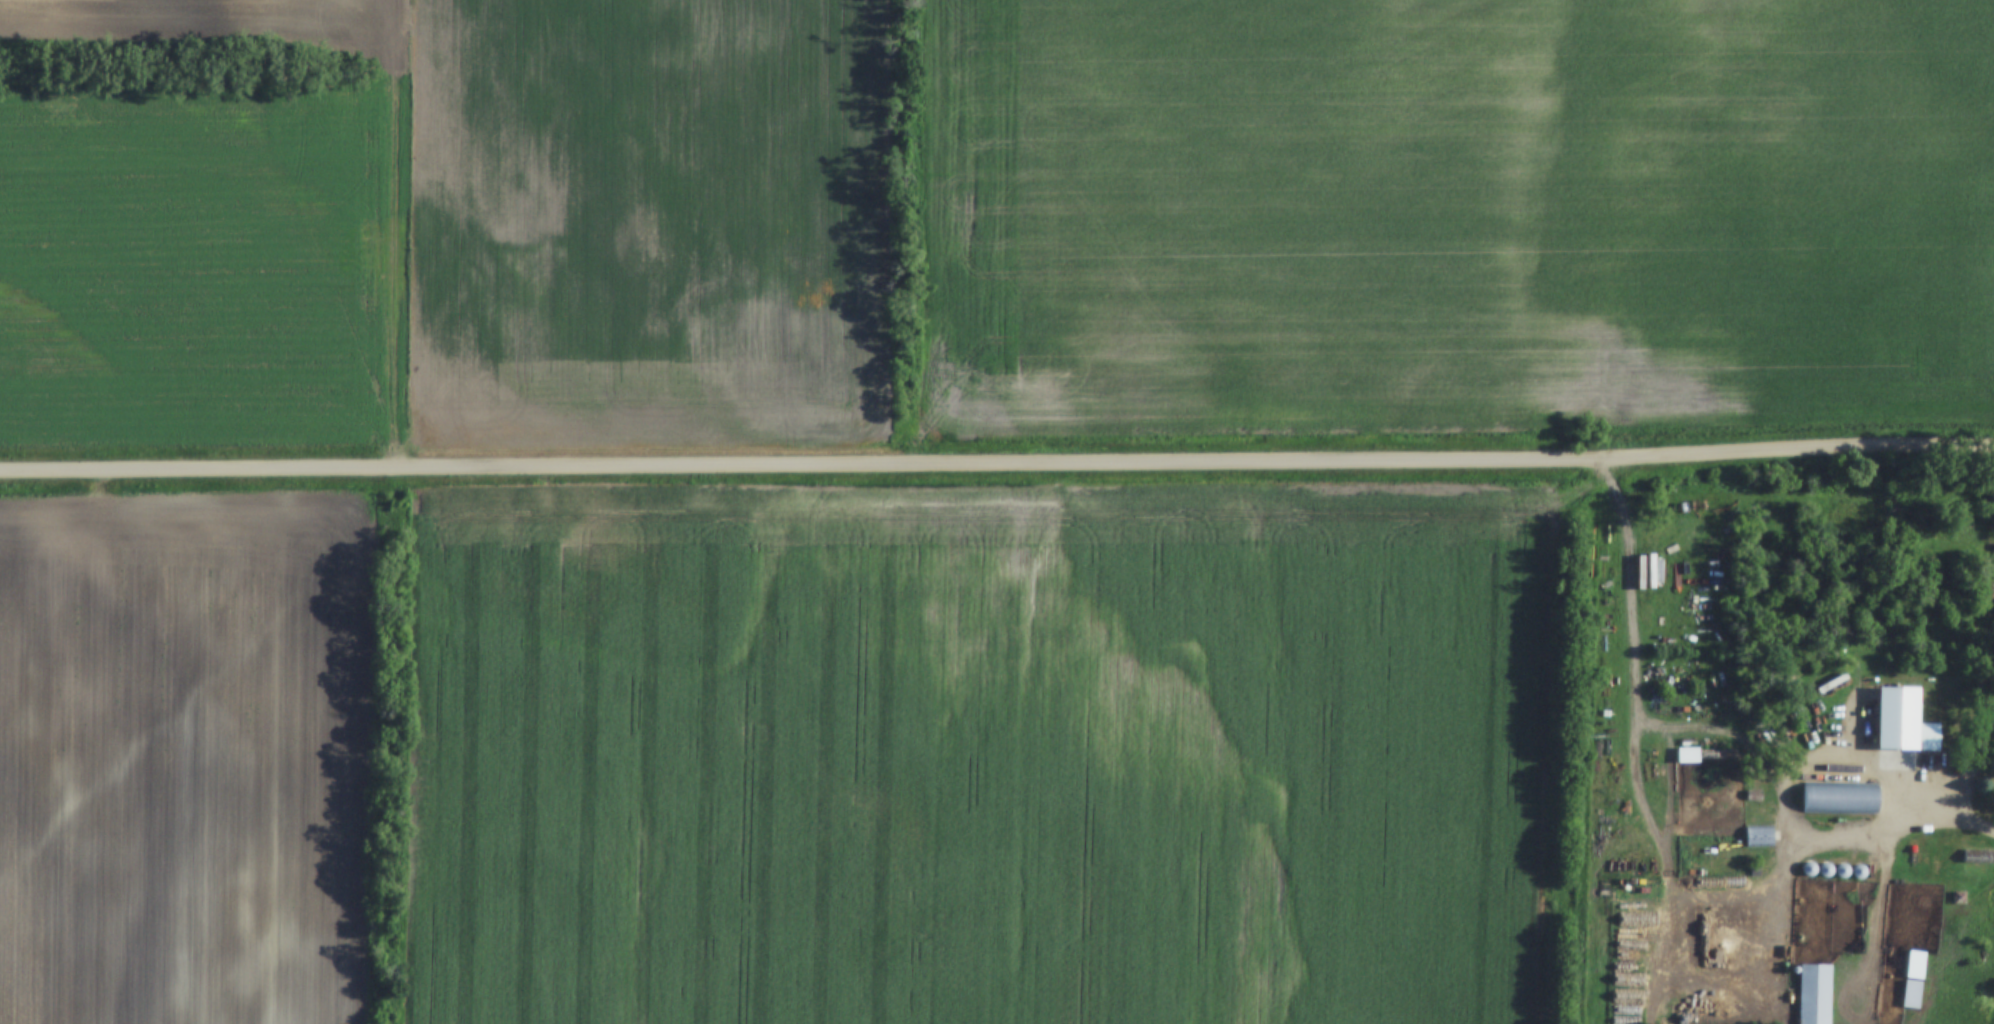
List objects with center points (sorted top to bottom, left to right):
road: (997, 464)
building: (1992, 550)
building: (1993, 714)
building: (1841, 797)
road: (1903, 829)
building: (1759, 836)
building: (1914, 978)
building: (1815, 993)

